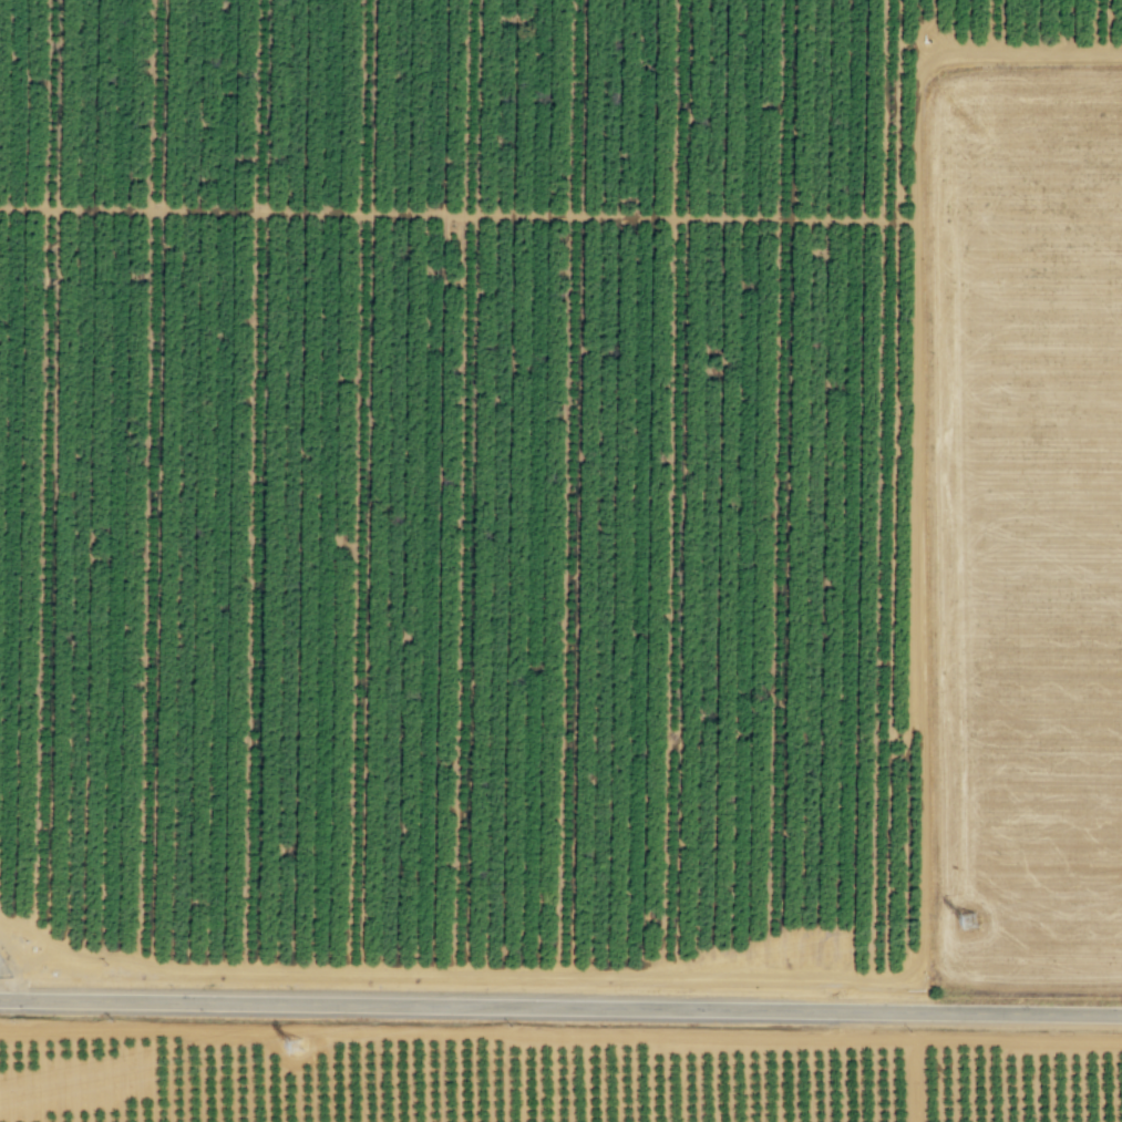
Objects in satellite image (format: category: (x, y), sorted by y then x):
road: (943, 55)
road: (52, 470)
road: (156, 483)
road: (261, 484)
road: (366, 485)
road: (915, 599)
power tower: (970, 923)
road: (13, 967)
road: (560, 1007)
road: (560, 1038)
power tower: (303, 1048)
road: (918, 1081)

